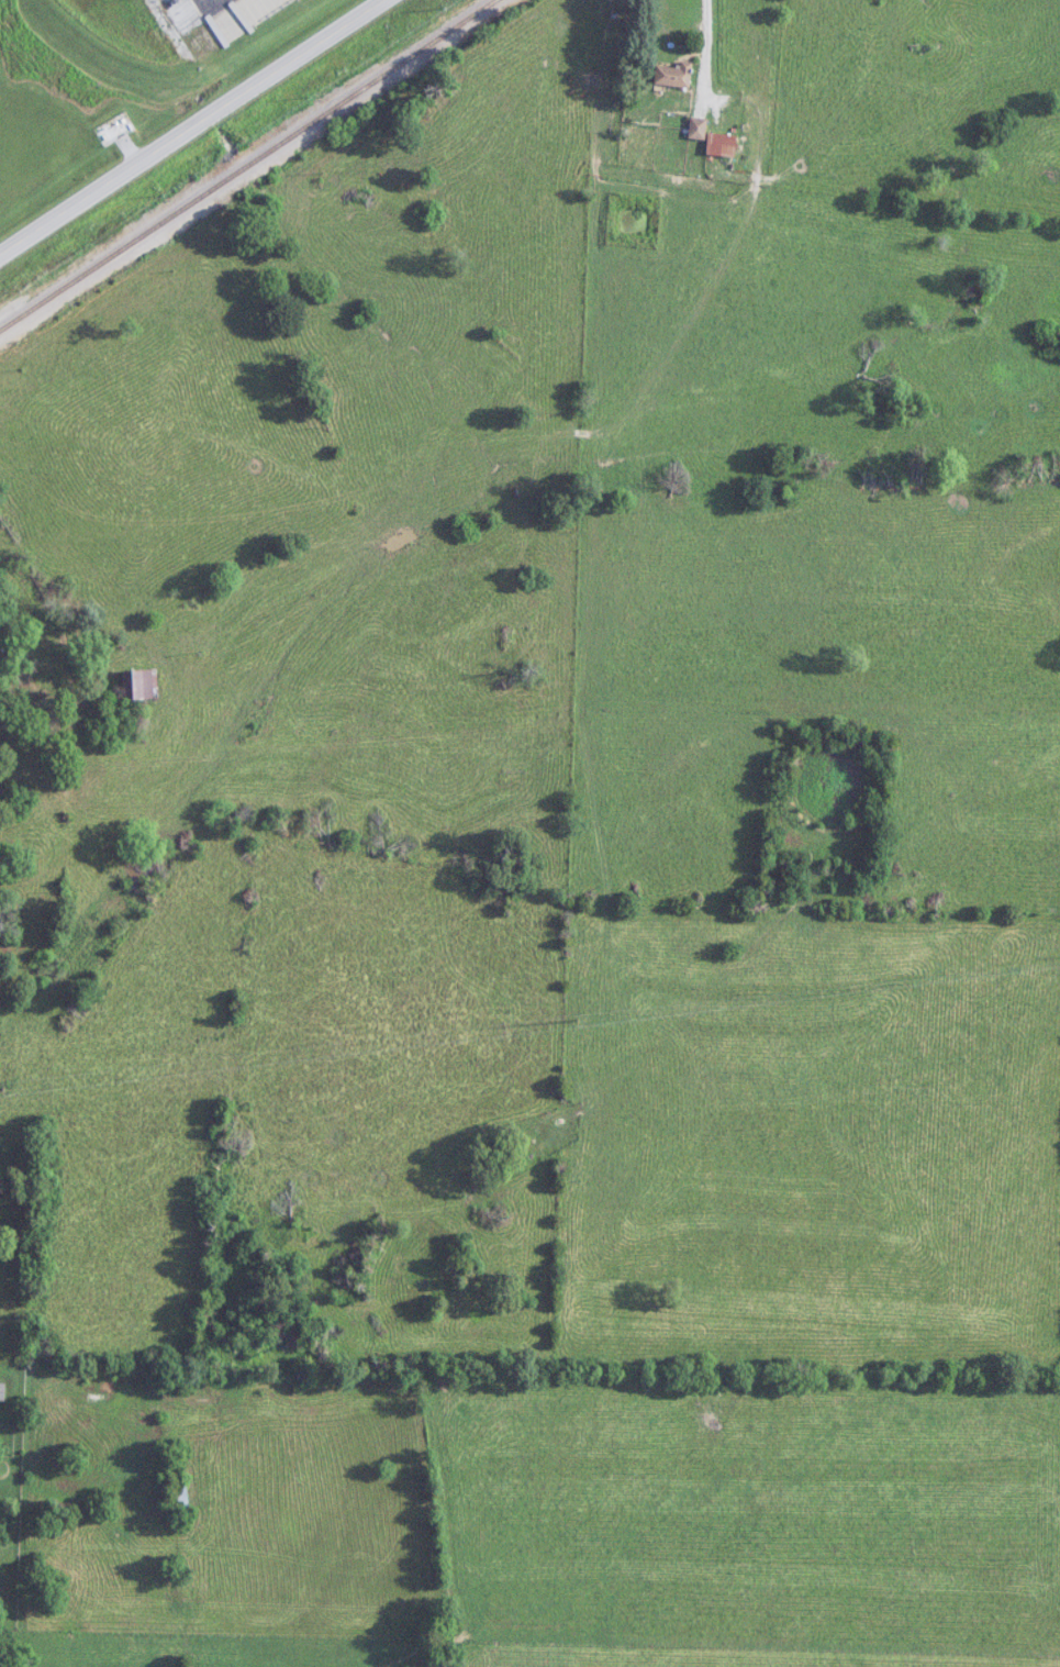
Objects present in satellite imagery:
road: (716, 46)
building: (683, 71)
building: (707, 124)
building: (698, 129)
road: (201, 134)
building: (733, 141)
railway: (247, 165)
building: (48, 673)
building: (141, 684)
building: (102, 1391)
building: (148, 1434)
building: (182, 1497)

